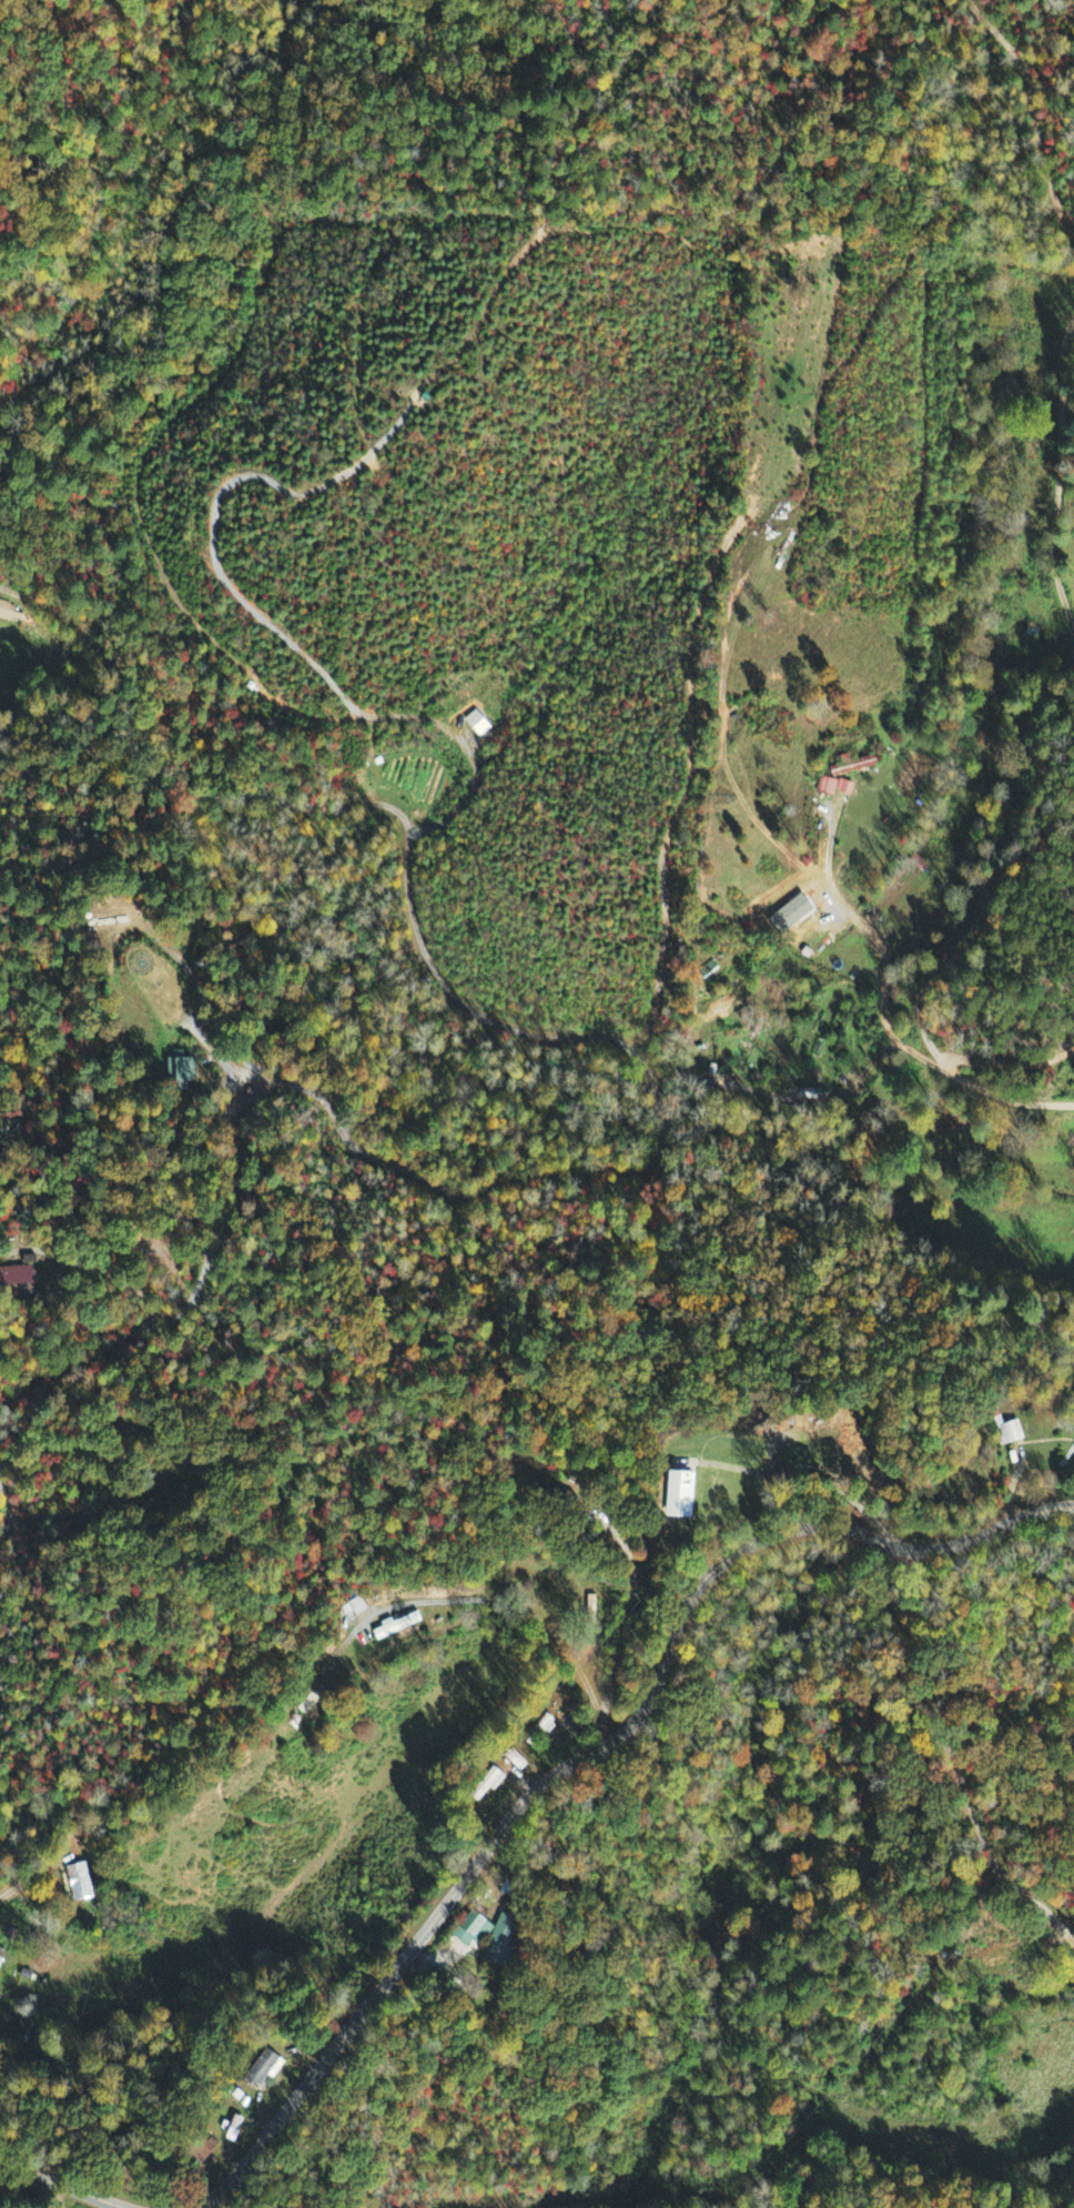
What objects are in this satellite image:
road: (1034, 102)
building: (9, 613)
road: (1019, 780)
building: (835, 787)
road: (877, 941)
building: (180, 1070)
building: (19, 1279)
building: (1010, 1433)
building: (686, 1496)
road: (9, 1511)
building: (401, 1626)
road: (598, 1753)
building: (79, 1883)
building: (478, 1932)
building: (505, 1942)
building: (2, 1958)
building: (270, 2067)
building: (241, 2127)
road: (68, 2181)

